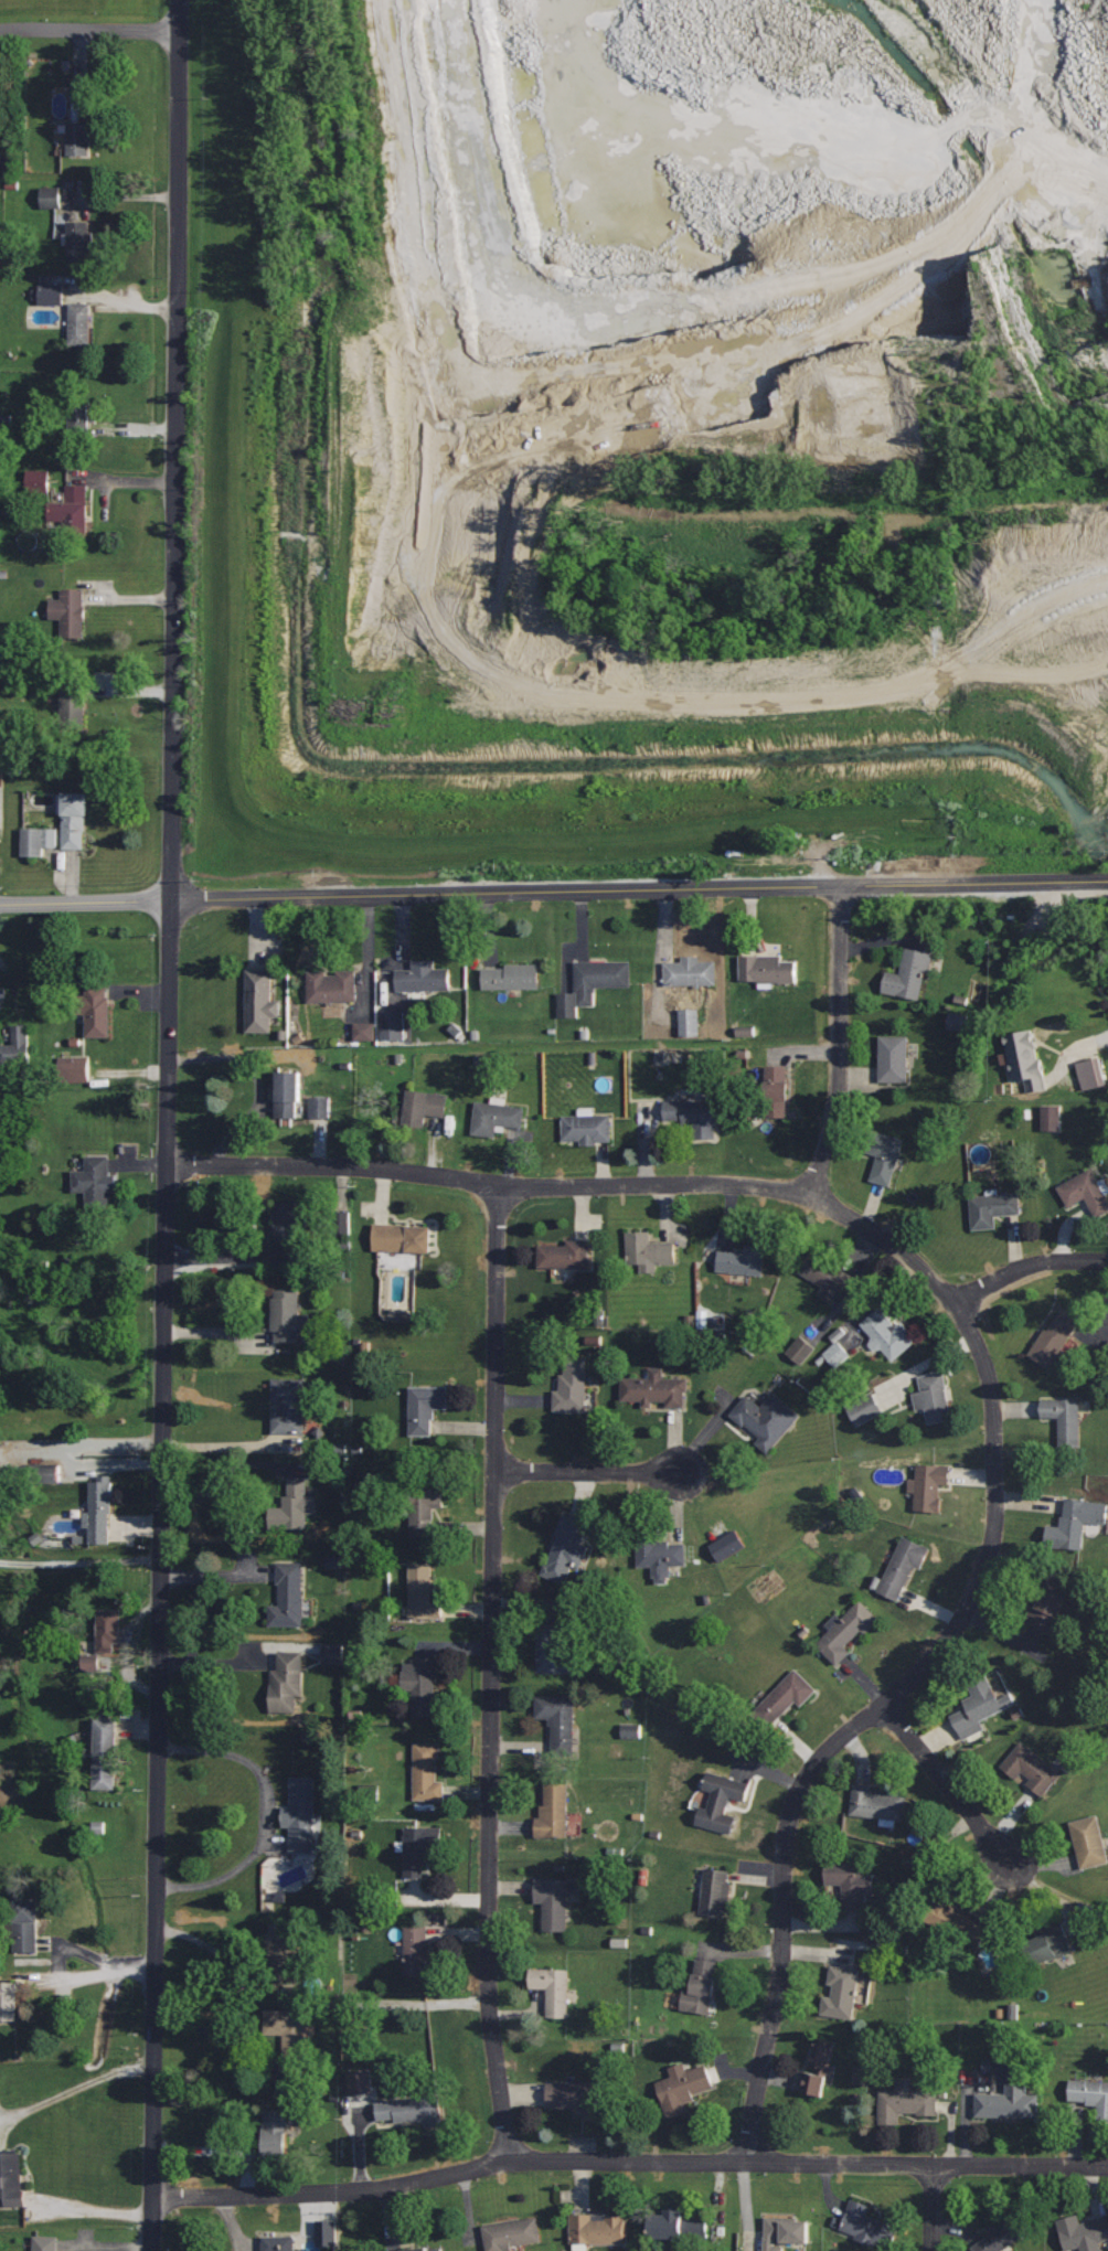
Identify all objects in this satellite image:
road: (89, 30)
building: (79, 140)
building: (51, 198)
road: (437, 209)
building: (79, 243)
building: (52, 296)
building: (79, 324)
building: (82, 414)
quarry: (640, 446)
building: (40, 480)
building: (71, 506)
building: (70, 612)
road: (1023, 674)
road: (519, 681)
building: (73, 706)
building: (73, 820)
road: (930, 821)
building: (39, 841)
road: (553, 892)
building: (766, 968)
building: (689, 970)
building: (512, 974)
building: (908, 974)
building: (423, 975)
building: (592, 983)
building: (331, 984)
building: (2, 999)
building: (259, 1000)
building: (97, 1012)
building: (959, 1022)
building: (690, 1023)
building: (392, 1026)
building: (364, 1032)
building: (745, 1032)
road: (1099, 1037)
road: (838, 1043)
building: (17, 1046)
building: (893, 1057)
building: (1025, 1057)
building: (75, 1069)
building: (1093, 1074)
building: (774, 1090)
building: (287, 1092)
road: (168, 1099)
building: (320, 1107)
building: (423, 1107)
building: (693, 1114)
building: (496, 1117)
building: (1053, 1119)
building: (586, 1128)
building: (882, 1151)
building: (95, 1181)
building: (1085, 1191)
building: (993, 1208)
building: (290, 1229)
building: (338, 1230)
building: (402, 1237)
building: (649, 1250)
building: (565, 1255)
building: (748, 1260)
road: (1026, 1266)
building: (825, 1277)
building: (288, 1314)
building: (889, 1333)
building: (1052, 1338)
building: (840, 1347)
building: (801, 1349)
road: (980, 1355)
building: (572, 1385)
building: (656, 1388)
building: (933, 1397)
building: (289, 1405)
building: (426, 1406)
building: (866, 1411)
building: (1064, 1418)
building: (766, 1419)
road: (588, 1471)
building: (51, 1475)
building: (928, 1485)
building: (291, 1507)
building: (423, 1508)
building: (99, 1512)
building: (1074, 1524)
building: (728, 1546)
building: (564, 1551)
building: (661, 1555)
building: (335, 1561)
road: (79, 1564)
building: (902, 1567)
building: (423, 1592)
building: (289, 1594)
building: (1046, 1608)
building: (108, 1631)
building: (845, 1631)
building: (554, 1651)
building: (333, 1654)
building: (92, 1665)
road: (492, 1674)
building: (286, 1681)
building: (424, 1688)
building: (784, 1697)
building: (980, 1706)
building: (557, 1720)
building: (632, 1731)
building: (106, 1756)
building: (1031, 1767)
building: (425, 1772)
road: (947, 1785)
building: (721, 1801)
building: (876, 1802)
building: (552, 1810)
road: (267, 1812)
building: (300, 1814)
building: (1088, 1842)
building: (419, 1847)
building: (852, 1882)
building: (714, 1890)
building: (553, 1901)
building: (953, 1920)
building: (25, 1924)
building: (1048, 1940)
building: (620, 1943)
building: (281, 1951)
building: (419, 1952)
building: (700, 1987)
building: (553, 1988)
building: (840, 1991)
building: (8, 2001)
building: (287, 2030)
building: (818, 2066)
building: (362, 2081)
building: (681, 2088)
road: (73, 2090)
building: (1089, 2094)
building: (577, 2095)
building: (904, 2101)
building: (1008, 2102)
building: (411, 2109)
building: (274, 2133)
road: (628, 2162)
building: (11, 2178)
road: (933, 2208)
road: (93, 2211)
building: (678, 2223)
road: (151, 2225)
building: (867, 2225)
building: (595, 2230)
building: (784, 2231)
building: (1083, 2231)
building: (327, 2232)
building: (512, 2232)
building: (1001, 2234)
building: (278, 2242)
building: (45, 2243)
building: (423, 2249)

